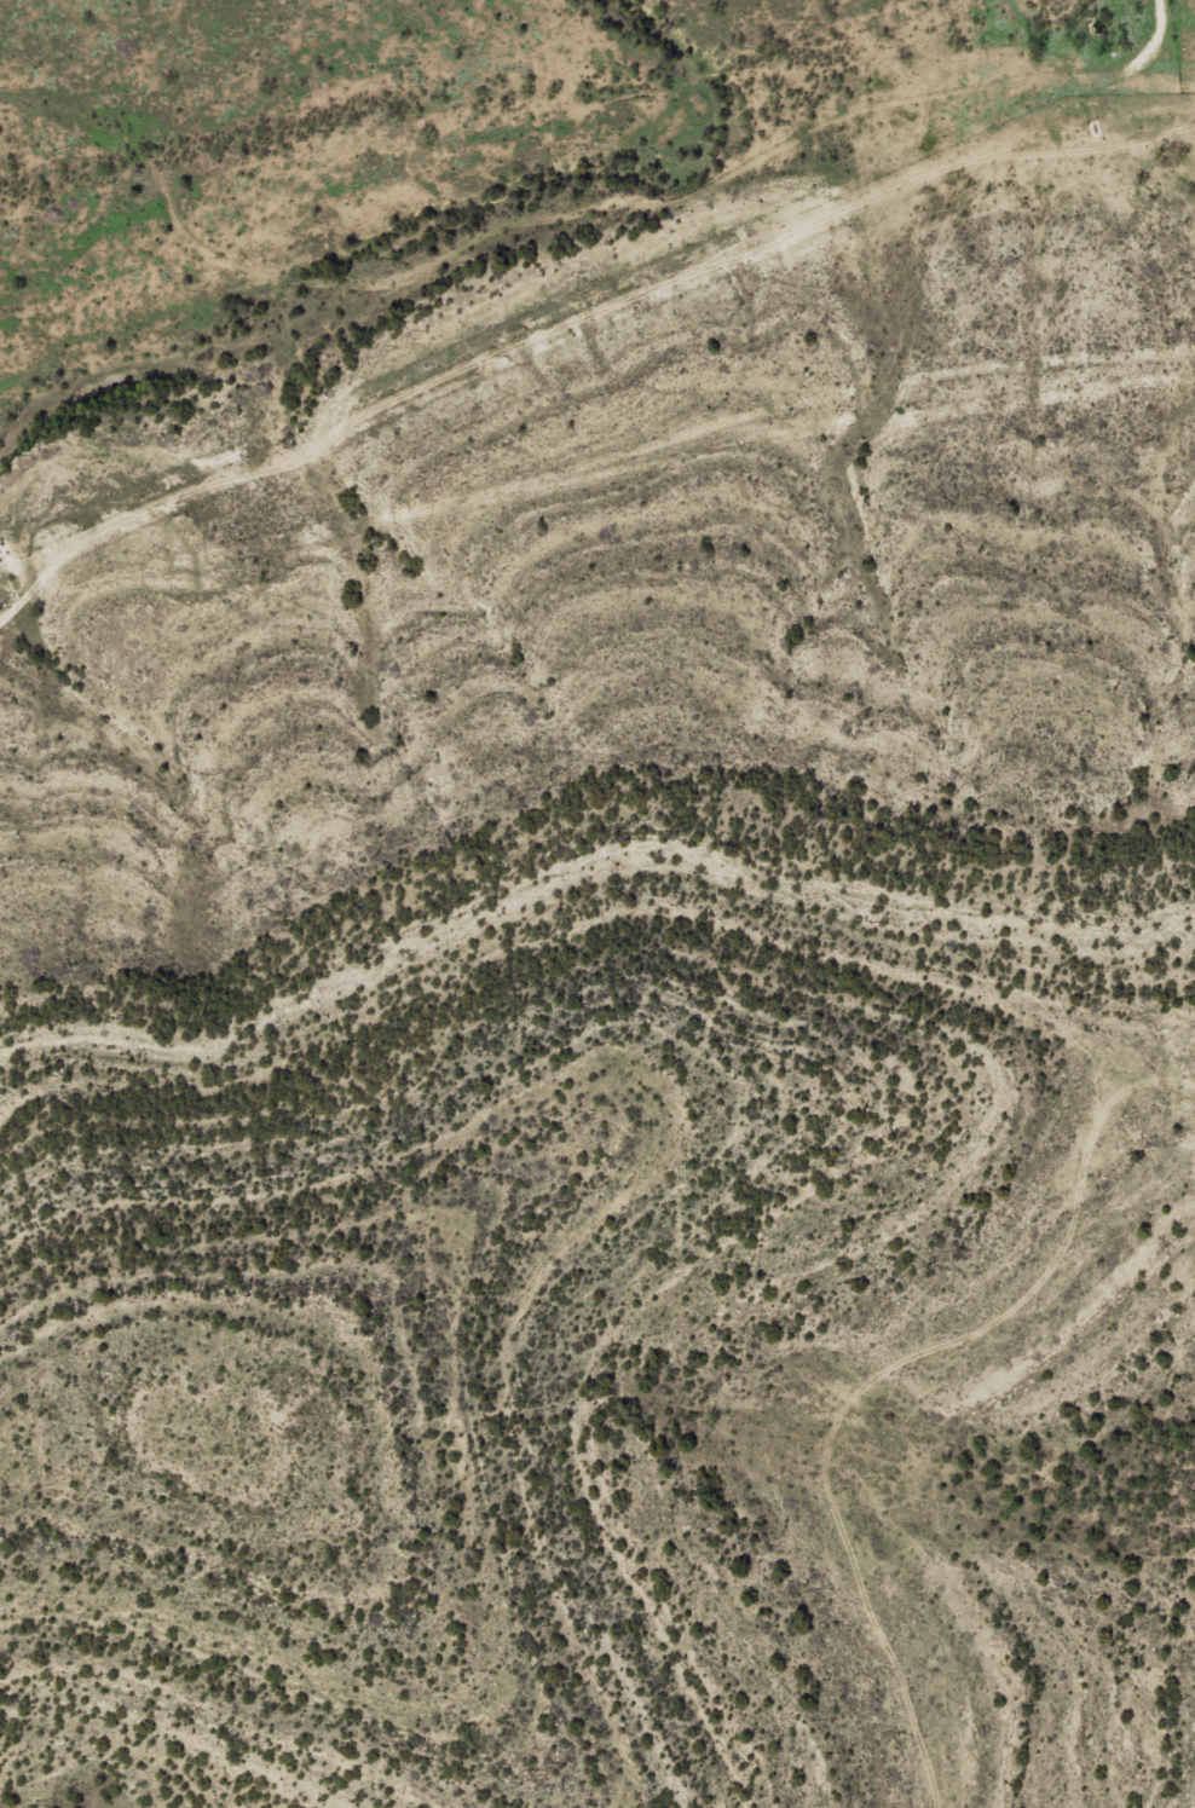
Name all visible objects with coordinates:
road: (552, 227)

